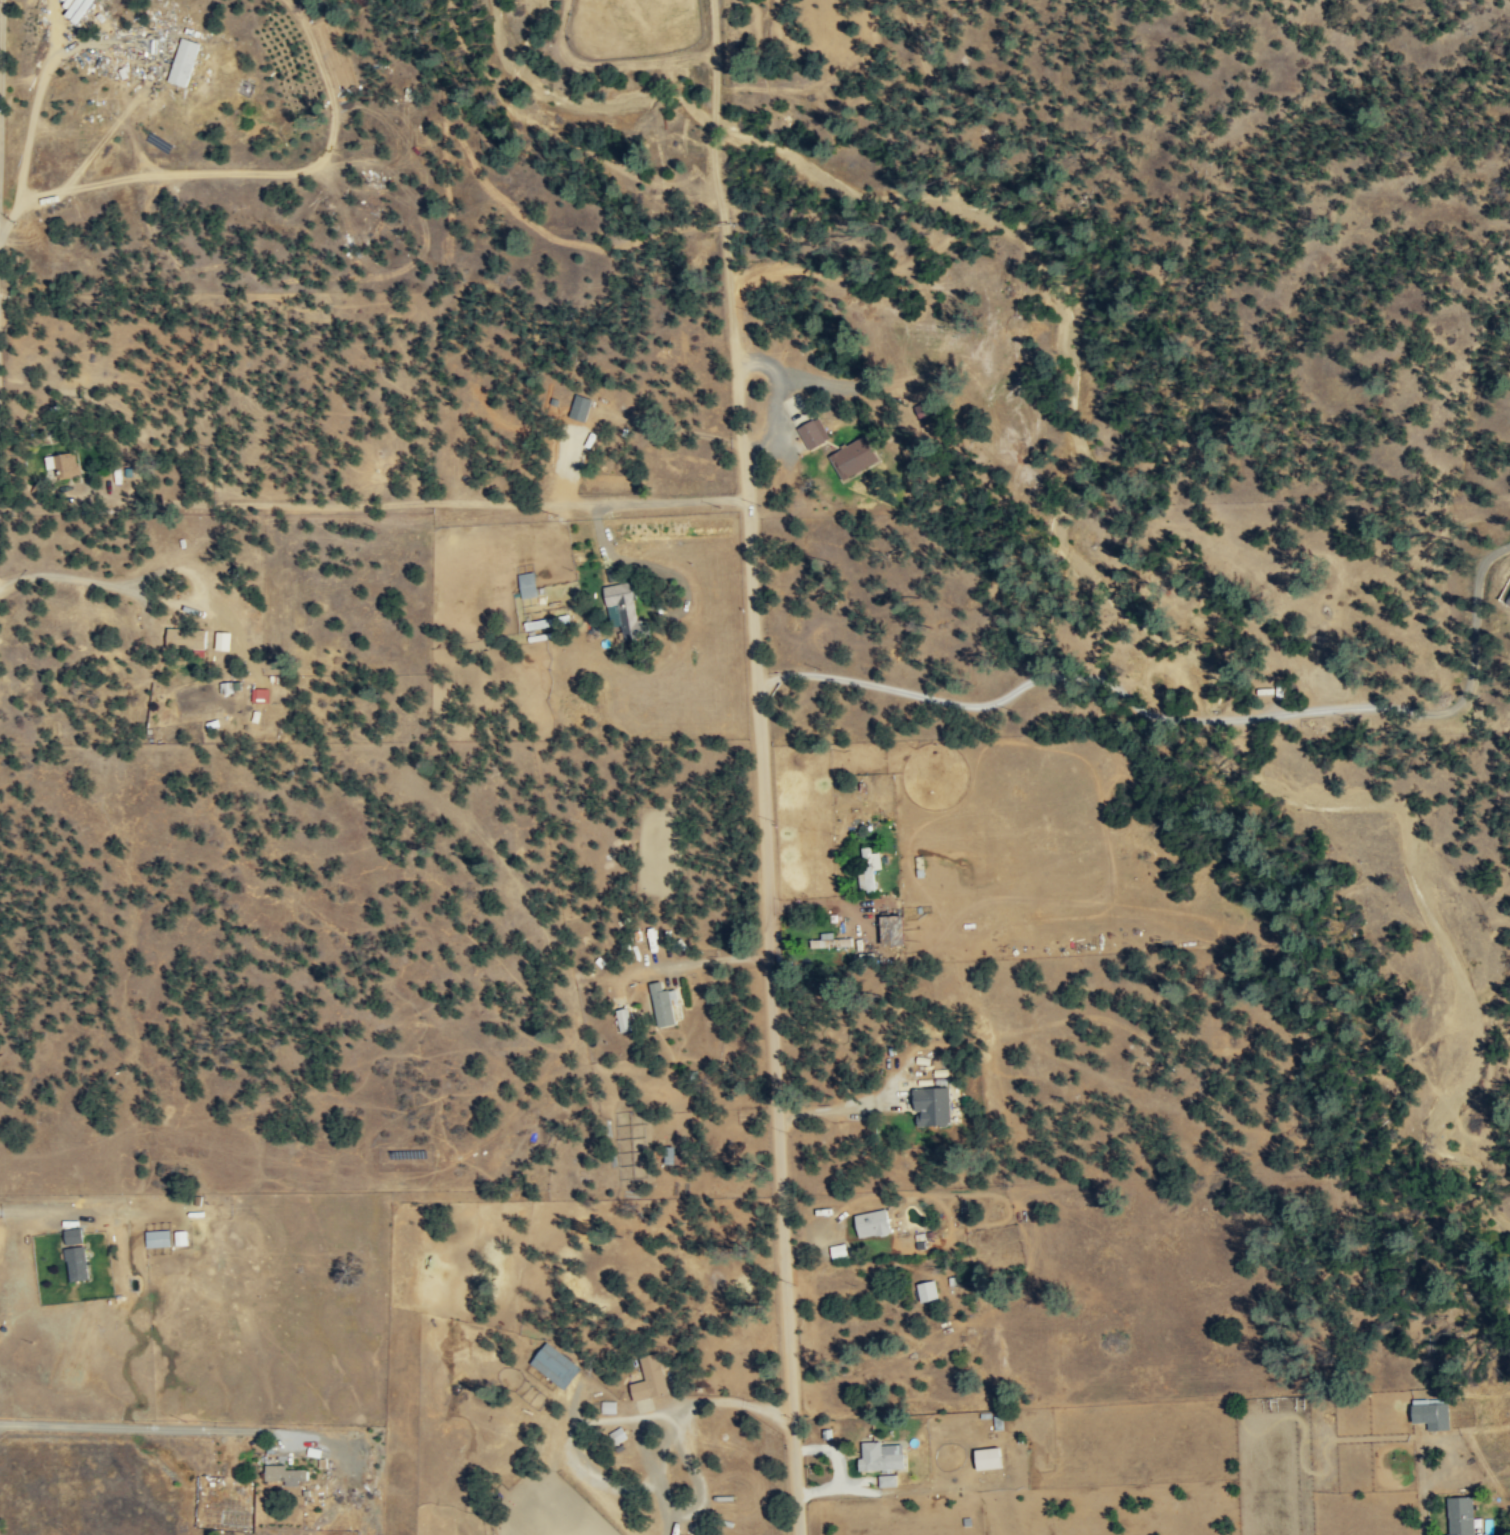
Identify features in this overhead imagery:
road: (1, 35)
building: (184, 61)
road: (719, 110)
road: (735, 360)
building: (581, 407)
building: (928, 408)
building: (814, 433)
building: (855, 457)
building: (63, 464)
road: (82, 580)
building: (528, 584)
building: (626, 610)
building: (188, 638)
building: (231, 686)
building: (261, 694)
building: (869, 869)
building: (895, 930)
building: (832, 941)
building: (664, 1004)
road: (769, 1017)
building: (625, 1020)
building: (933, 1106)
road: (834, 1108)
building: (873, 1223)
building: (74, 1235)
building: (158, 1237)
building: (839, 1251)
building: (78, 1262)
building: (928, 1290)
building: (556, 1365)
building: (651, 1378)
road: (722, 1399)
building: (609, 1406)
building: (1428, 1412)
road: (1440, 1435)
building: (883, 1455)
building: (990, 1457)
building: (286, 1474)
building: (888, 1479)
road: (1424, 1511)
building: (1458, 1515)
building: (685, 1534)

